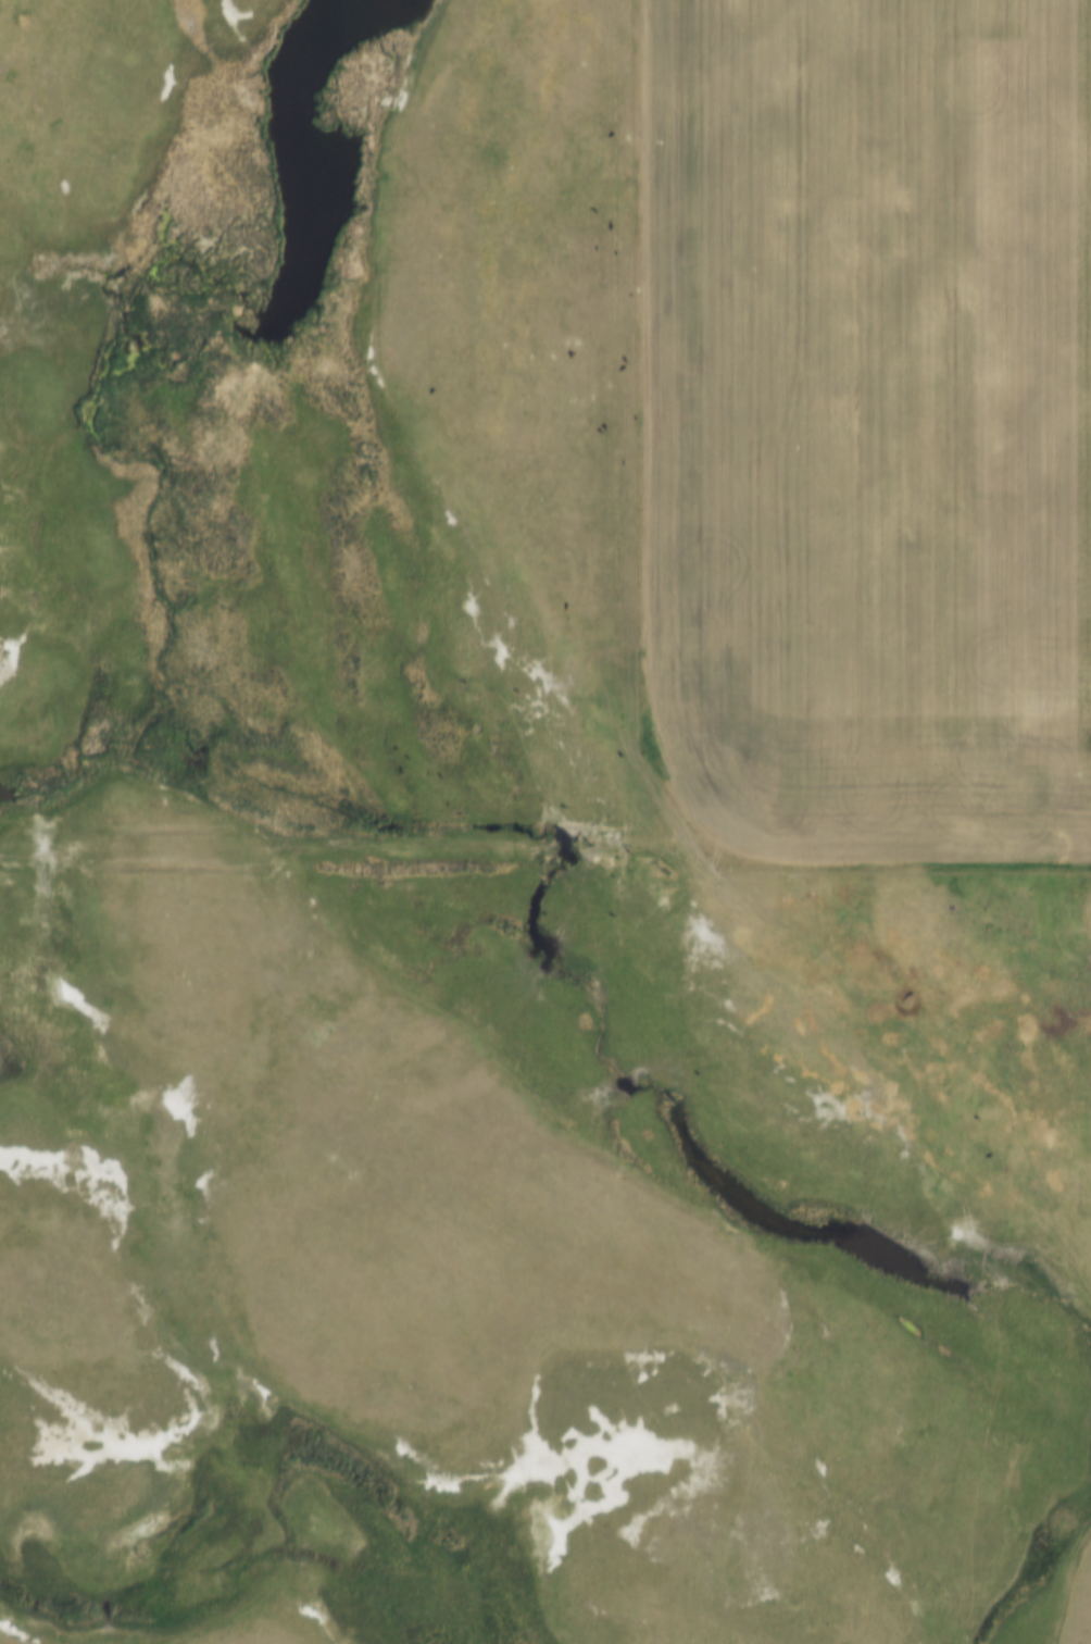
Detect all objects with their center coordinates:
road: (618, 605)
road: (342, 848)

